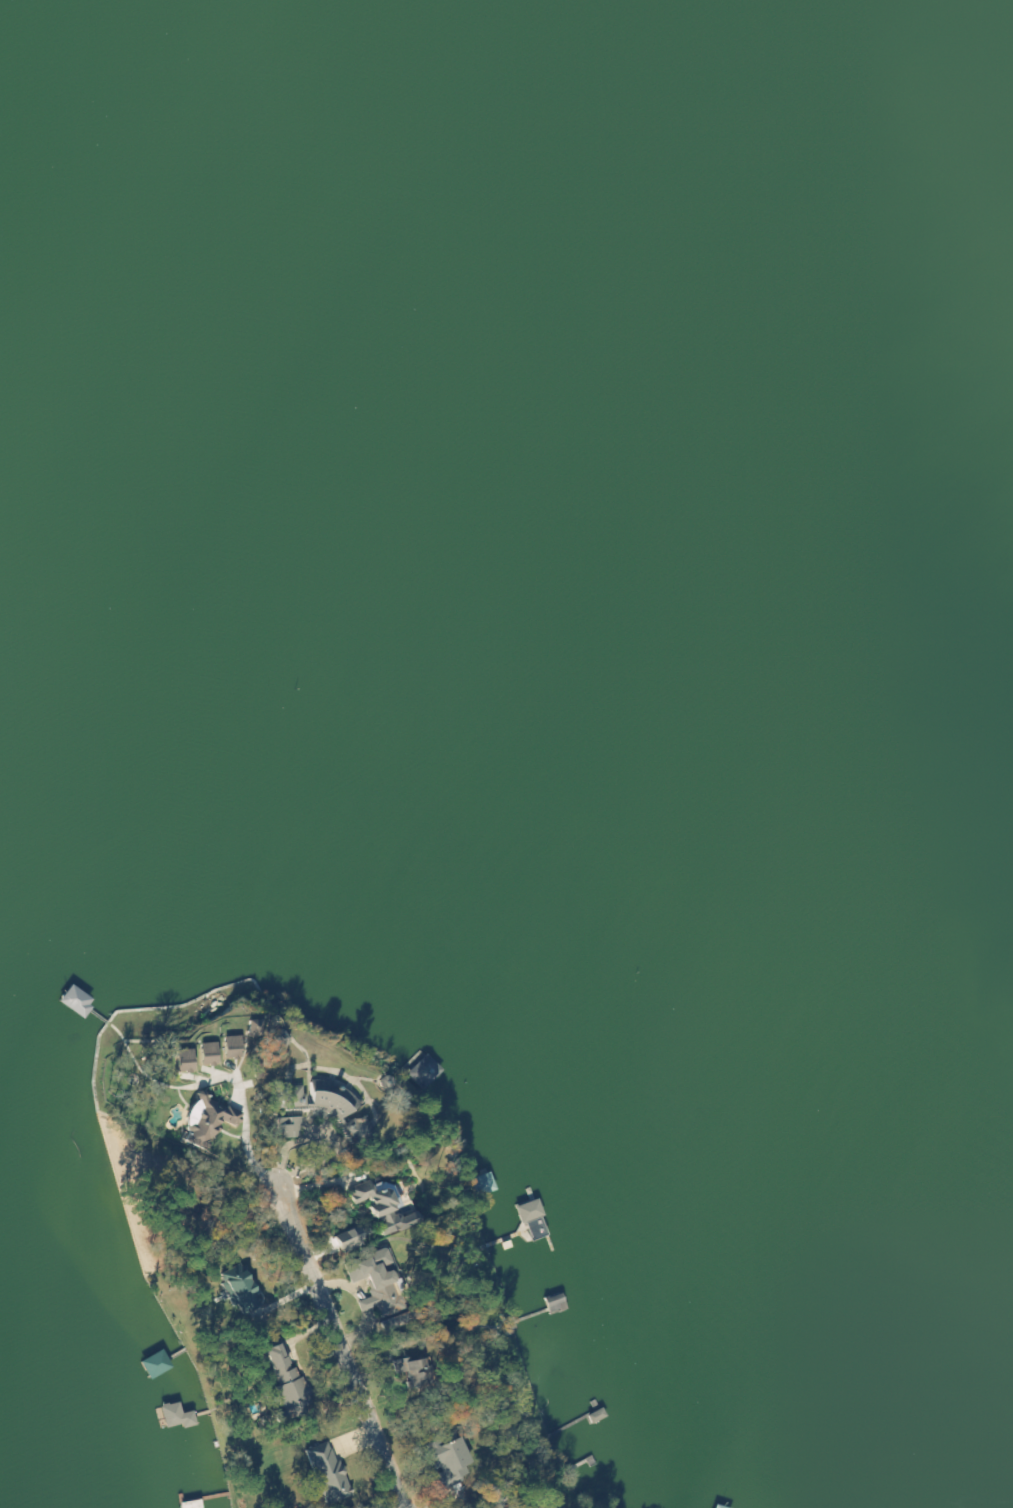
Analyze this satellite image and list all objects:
building: (113, 378)
building: (421, 1073)
building: (316, 1106)
building: (281, 1128)
building: (478, 1185)
building: (524, 1212)
building: (370, 1286)
building: (235, 1289)
road: (348, 1300)
building: (550, 1303)
building: (285, 1388)
building: (172, 1418)
building: (443, 1463)
building: (326, 1475)
building: (714, 1507)

